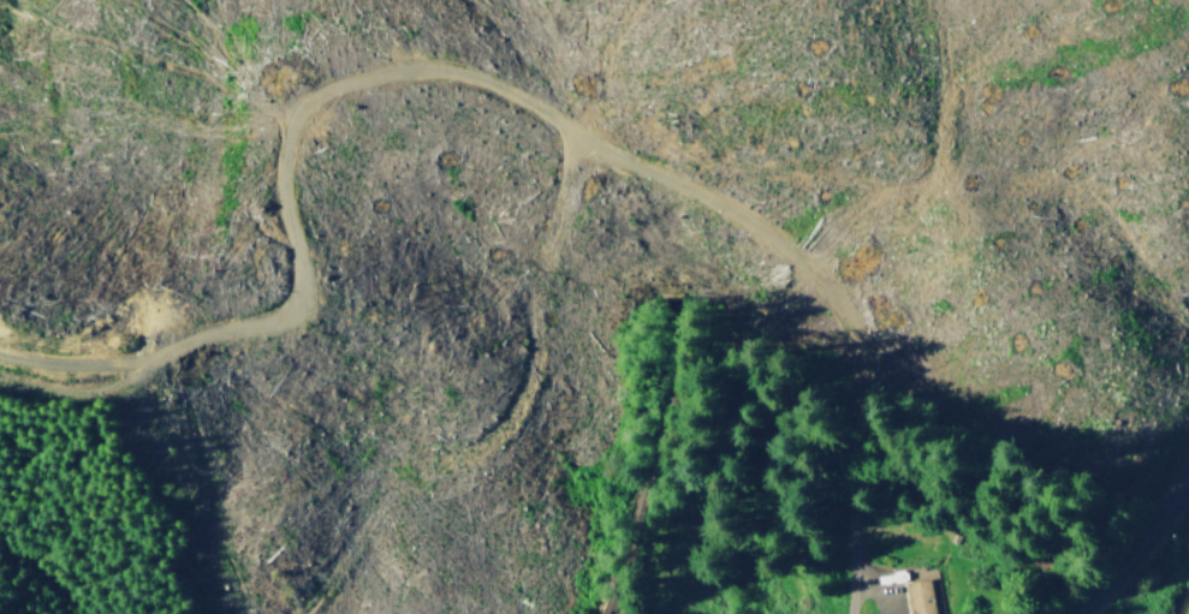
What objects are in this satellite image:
railway: (679, 300)
road: (1139, 544)
building: (918, 596)

